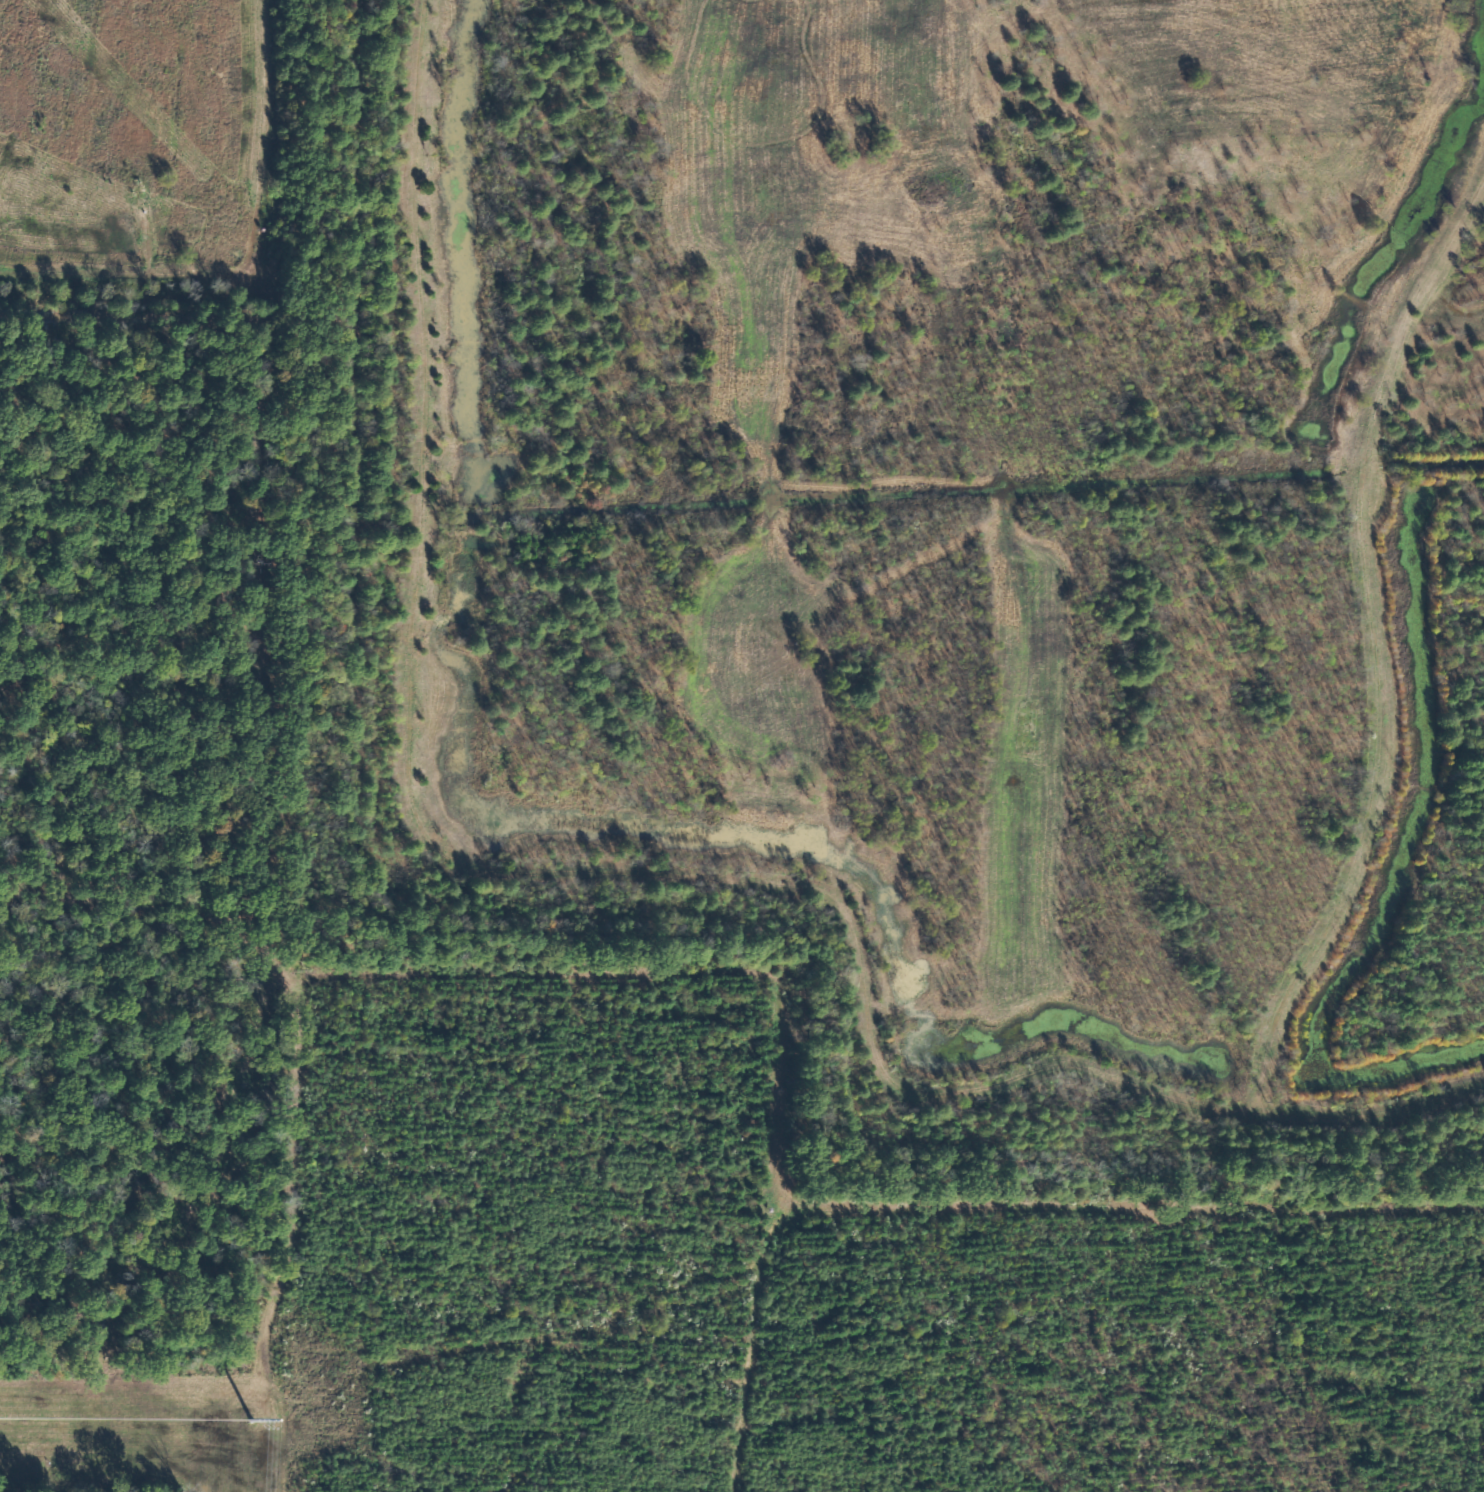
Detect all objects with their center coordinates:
road: (1417, 109)

